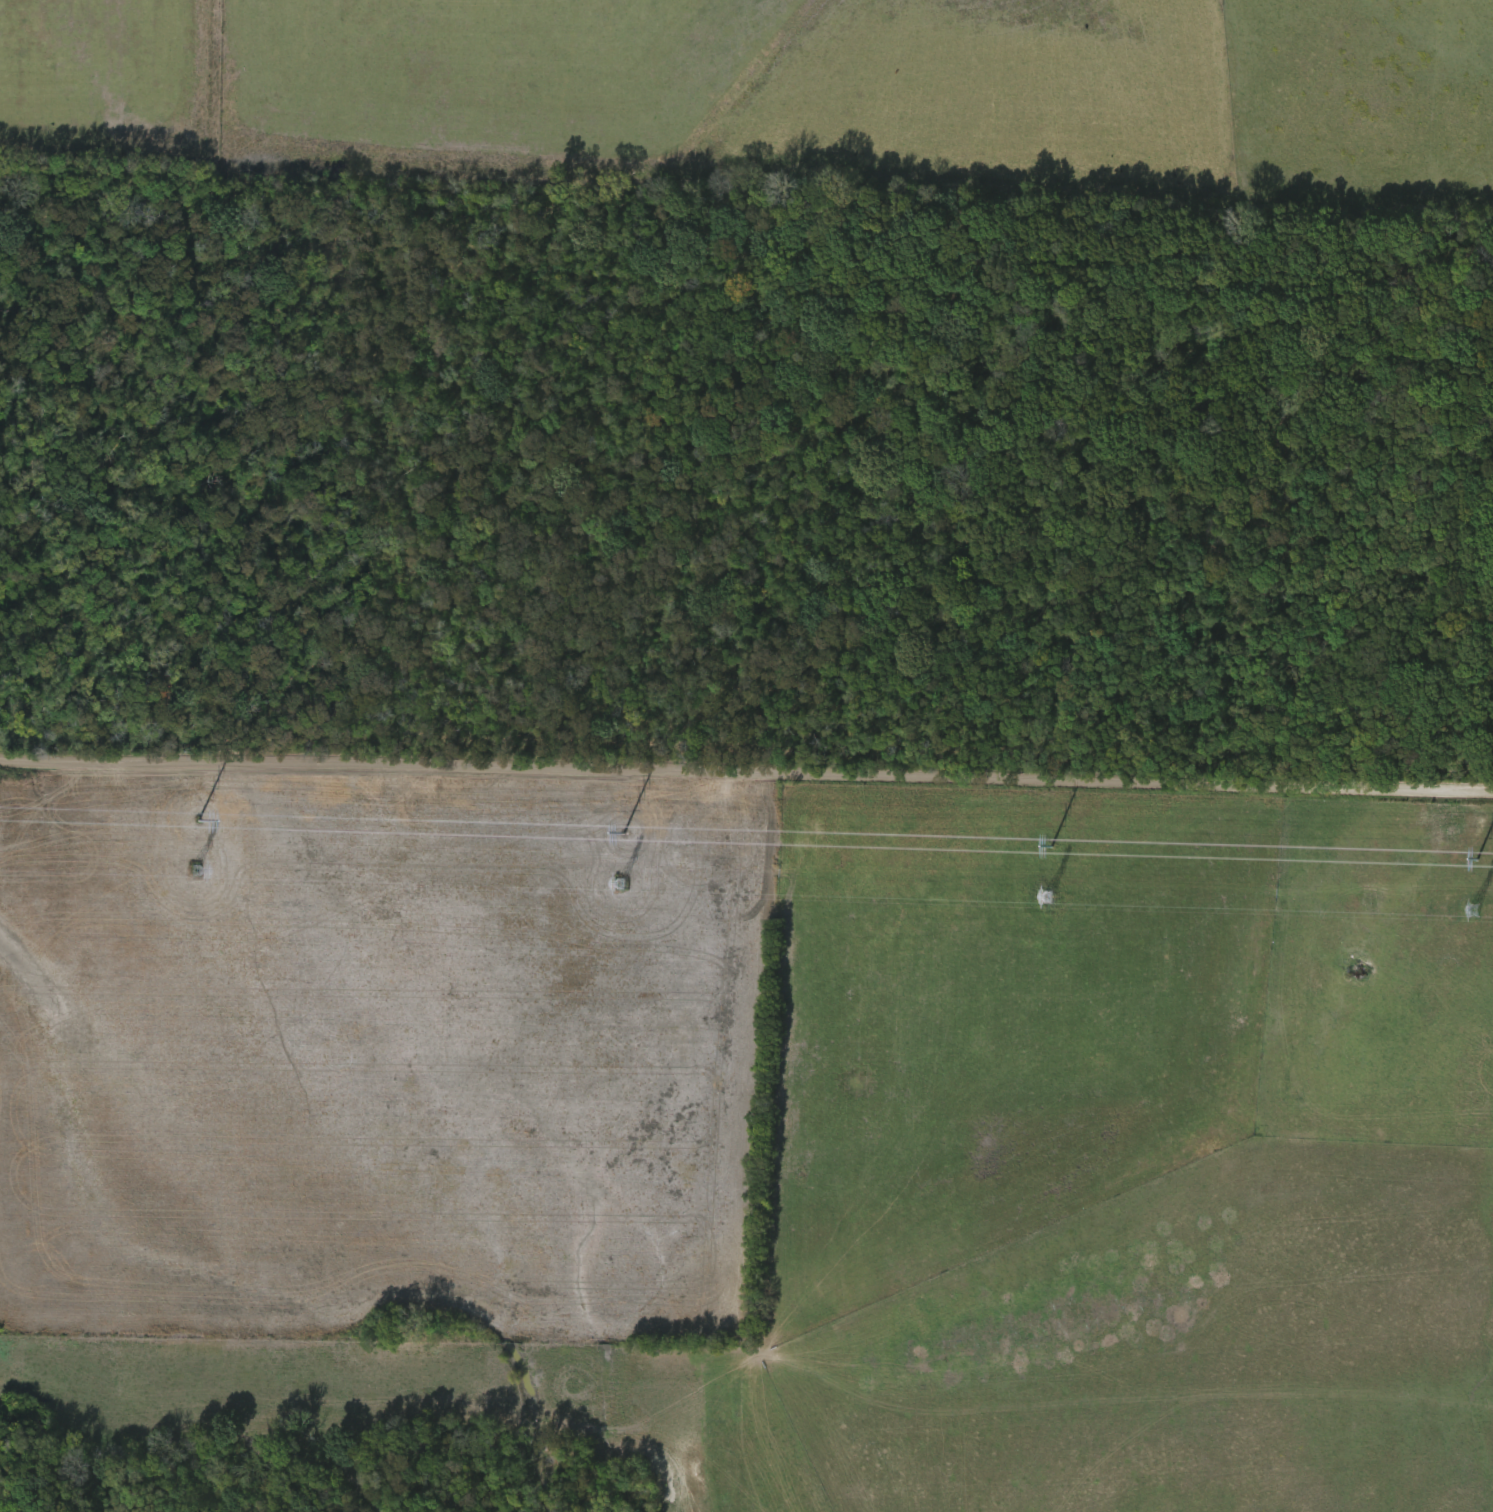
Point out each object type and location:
road: (746, 777)
power tower: (200, 821)
power tower: (622, 834)
power tower: (1050, 848)
power tower: (1476, 862)
road: (1414, 1005)

